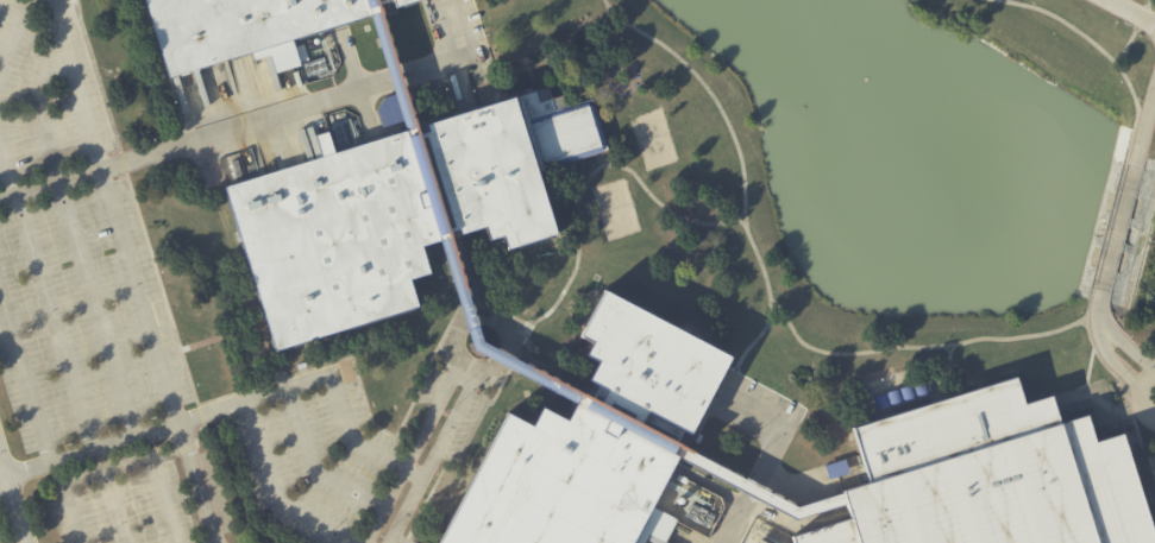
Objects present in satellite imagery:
road: (450, 1)
road: (1126, 14)
building: (237, 26)
road: (14, 27)
road: (1125, 51)
building: (381, 52)
road: (1118, 56)
road: (456, 59)
road: (390, 82)
road: (75, 86)
road: (40, 112)
road: (193, 144)
road: (8, 166)
road: (588, 183)
road: (1123, 202)
building: (393, 211)
road: (739, 216)
road: (83, 266)
road: (466, 272)
road: (44, 279)
road: (140, 296)
road: (768, 316)
road: (451, 347)
road: (942, 347)
road: (1124, 347)
road: (946, 351)
road: (743, 354)
road: (1109, 360)
road: (1103, 367)
road: (947, 371)
road: (550, 378)
road: (312, 383)
road: (1137, 399)
building: (589, 444)
road: (410, 455)
road: (76, 456)
road: (770, 456)
road: (434, 460)
road: (314, 466)
building: (836, 468)
building: (977, 475)
road: (274, 493)
road: (157, 504)
road: (142, 523)
road: (23, 530)

